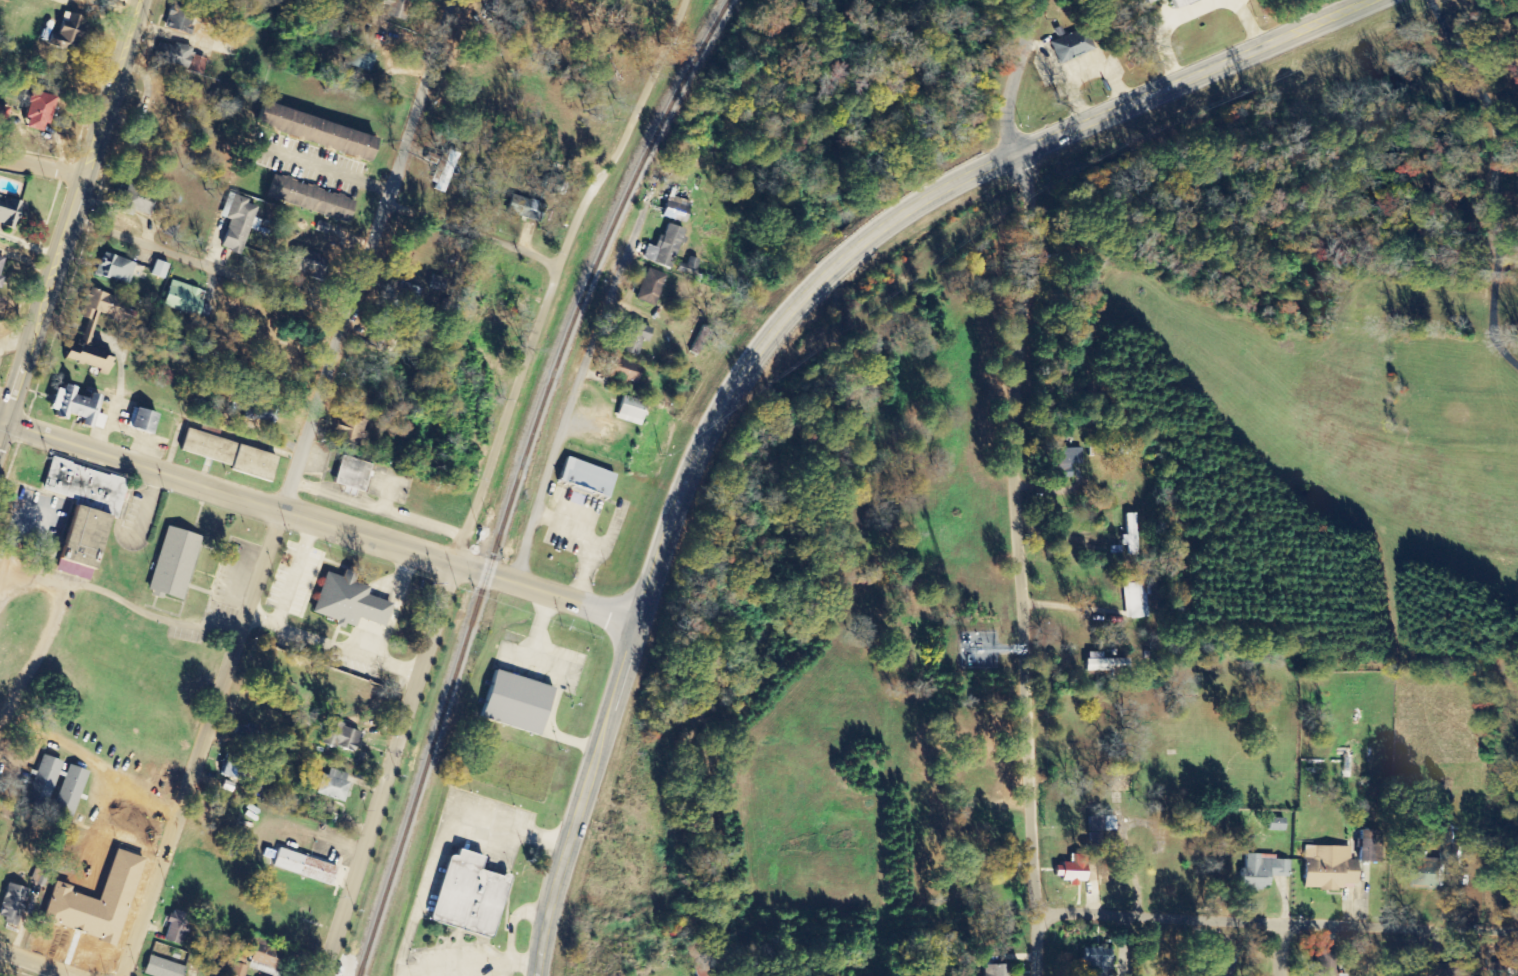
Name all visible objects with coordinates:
building: (1147, 1)
building: (1179, 3)
building: (396, 10)
building: (63, 32)
building: (1069, 46)
building: (177, 57)
building: (356, 60)
road: (1022, 73)
building: (31, 110)
building: (2, 115)
building: (310, 130)
road: (42, 159)
road: (318, 167)
building: (442, 172)
building: (130, 198)
building: (310, 198)
building: (525, 206)
building: (674, 209)
building: (7, 211)
road: (70, 211)
building: (236, 222)
road: (467, 236)
building: (663, 247)
building: (1, 261)
building: (302, 261)
road: (206, 266)
building: (687, 267)
building: (114, 268)
building: (157, 269)
building: (0, 279)
building: (648, 287)
building: (400, 295)
building: (183, 298)
building: (85, 330)
road: (765, 330)
building: (633, 338)
building: (622, 370)
building: (70, 405)
building: (629, 409)
building: (95, 420)
building: (139, 421)
building: (348, 430)
building: (227, 453)
building: (1063, 461)
building: (350, 473)
railway: (514, 476)
building: (583, 477)
road: (482, 479)
road: (286, 487)
road: (227, 492)
building: (80, 510)
building: (1131, 535)
road: (1024, 561)
building: (172, 564)
road: (546, 591)
building: (1139, 599)
building: (346, 601)
building: (1103, 664)
building: (513, 703)
building: (339, 737)
building: (1351, 766)
building: (42, 782)
building: (1, 783)
building: (332, 785)
building: (68, 793)
building: (1274, 825)
building: (1093, 838)
building: (1448, 840)
building: (1363, 846)
building: (302, 866)
building: (1327, 868)
building: (1071, 871)
building: (1260, 871)
building: (1429, 873)
building: (1091, 888)
building: (464, 896)
building: (11, 902)
building: (92, 904)
road: (1281, 919)
building: (175, 927)
road: (1277, 947)
road: (1416, 949)
building: (262, 960)
building: (1095, 960)
road: (39, 962)
building: (1324, 962)
building: (1221, 964)
building: (159, 968)
building: (236, 970)
building: (993, 970)

